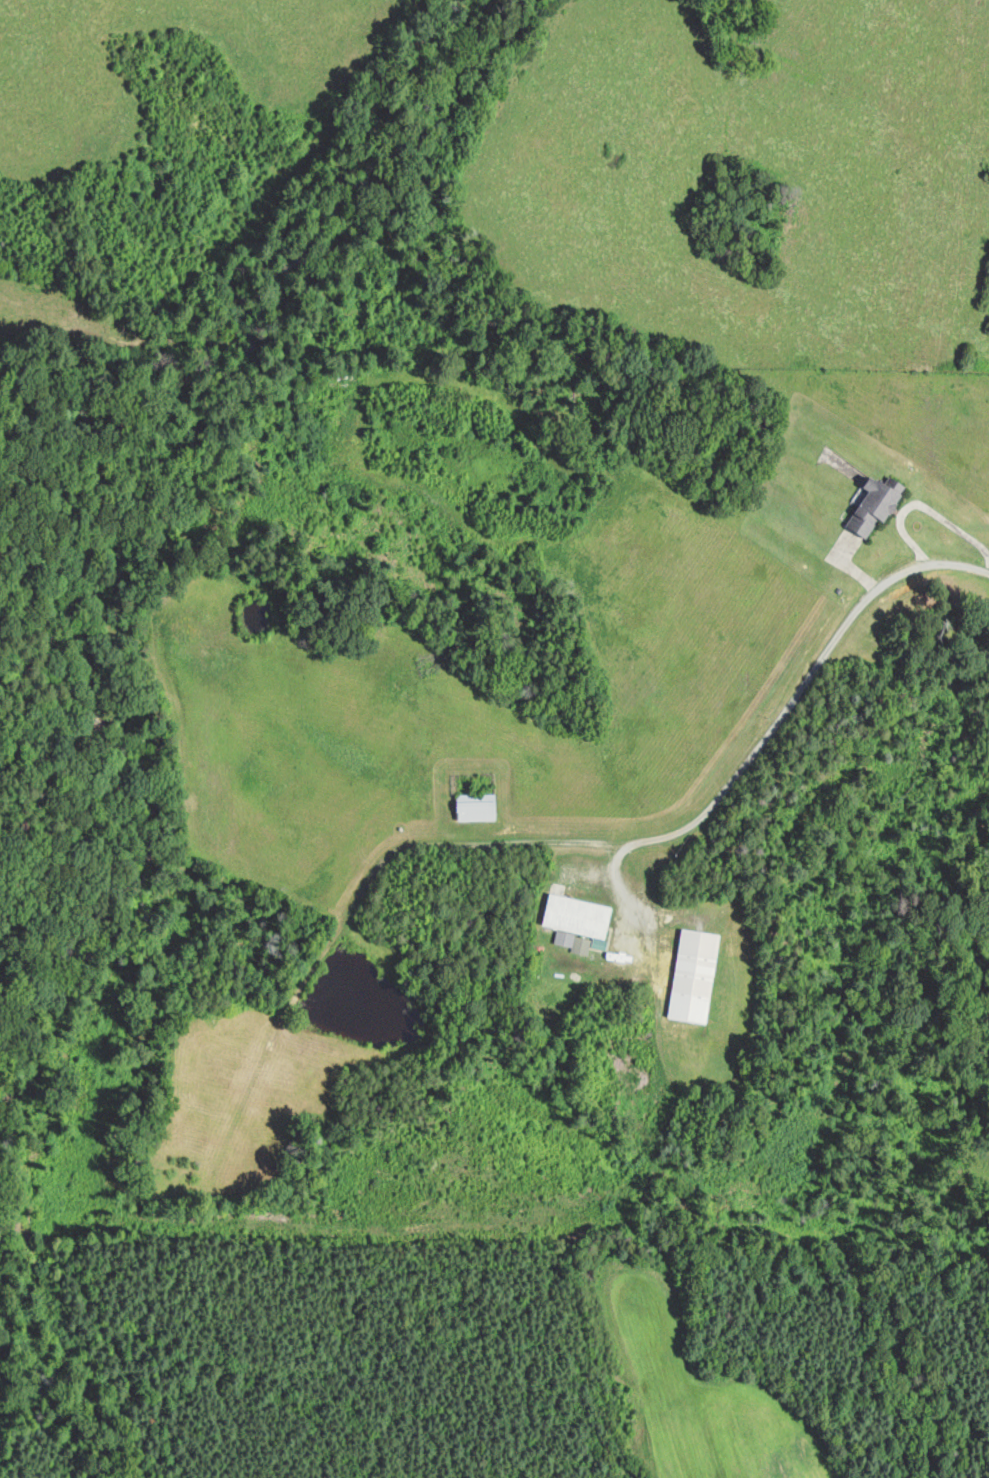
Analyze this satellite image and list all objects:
road: (922, 503)
building: (880, 504)
road: (725, 788)
building: (698, 974)

